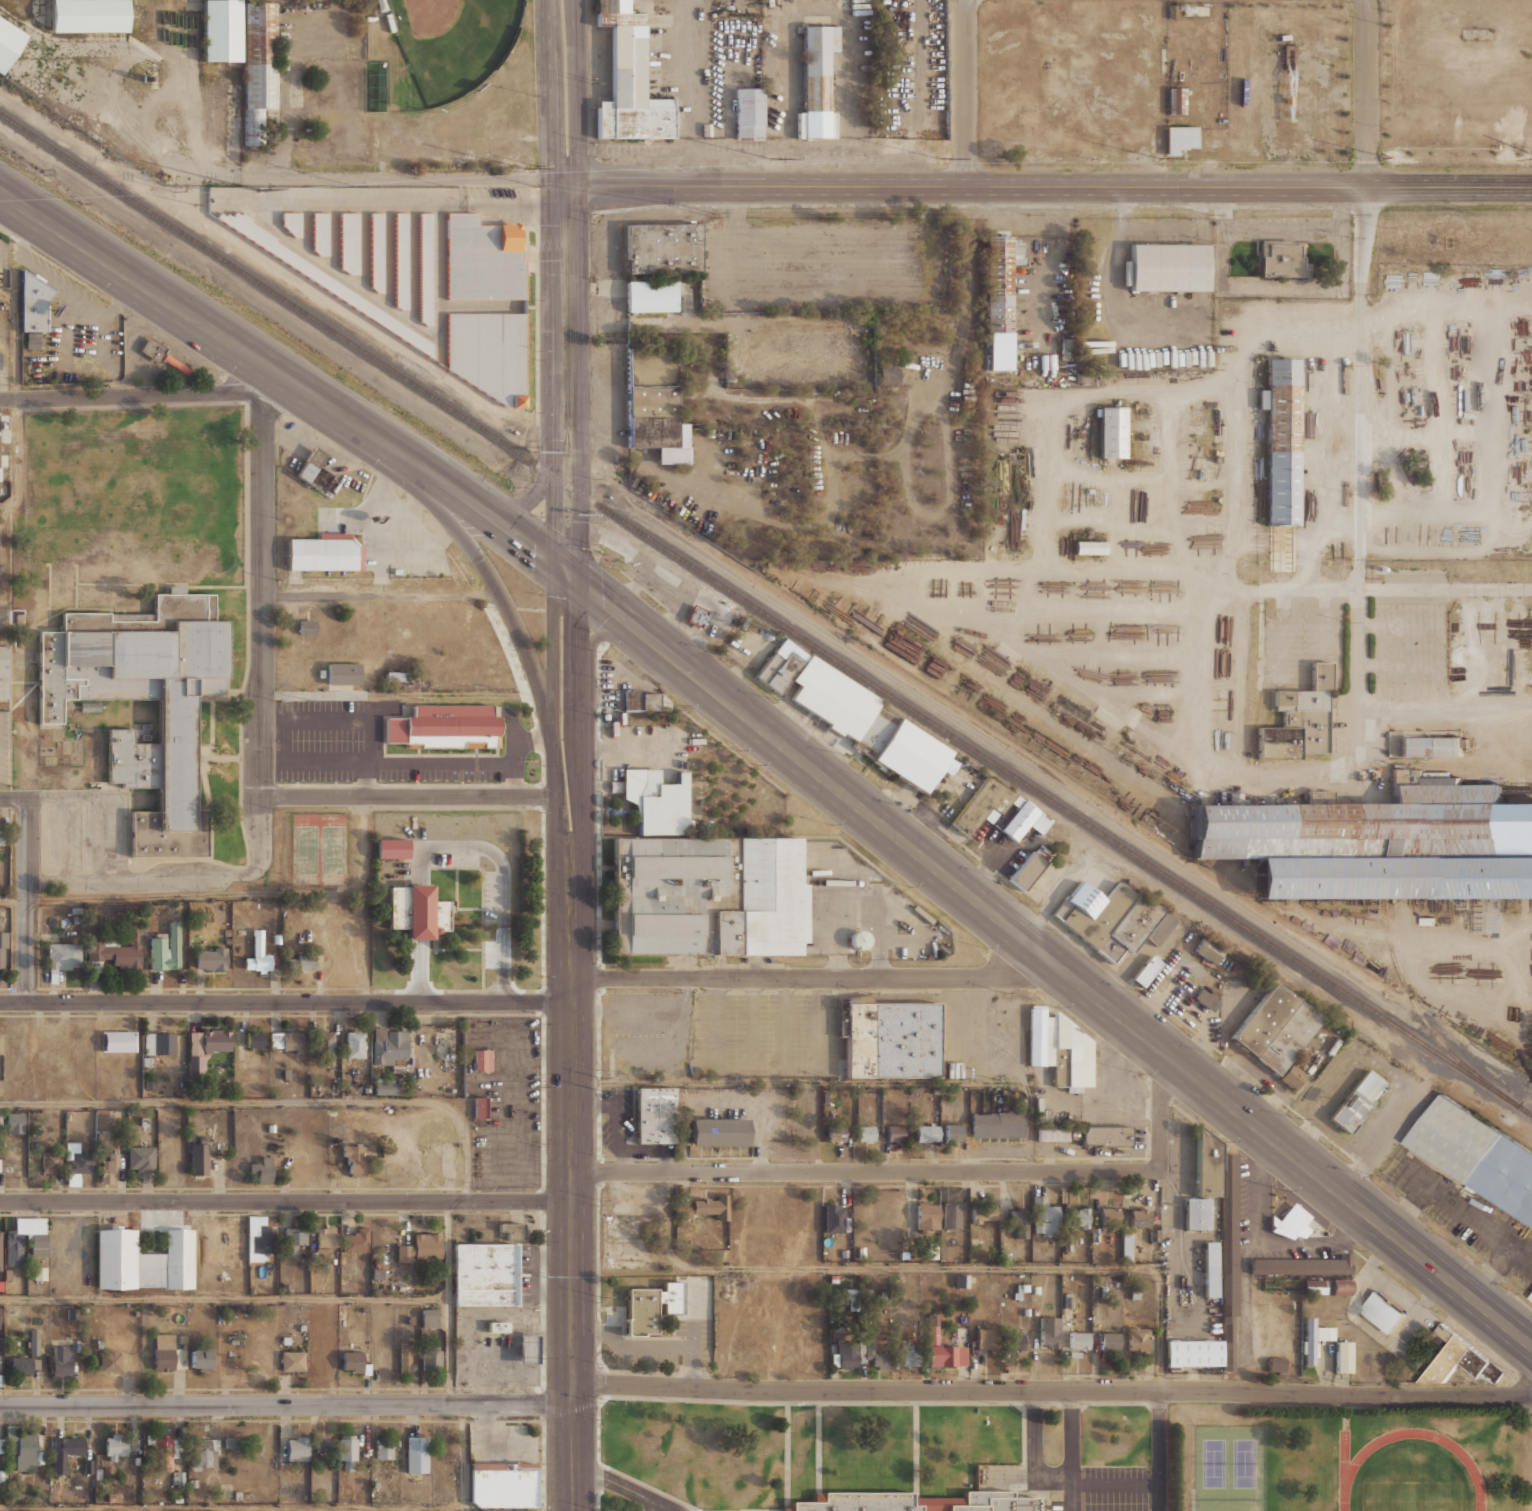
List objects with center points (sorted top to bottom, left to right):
building: (90, 15)
building: (368, 18)
building: (389, 22)
building: (218, 30)
park: (453, 41)
building: (9, 43)
building: (259, 65)
building: (627, 81)
building: (814, 83)
park: (429, 90)
road: (577, 92)
road: (962, 92)
road: (1365, 92)
road: (550, 93)
building: (1177, 100)
building: (746, 113)
building: (934, 113)
building: (1179, 138)
building: (270, 142)
road: (383, 177)
road: (1049, 184)
building: (291, 222)
building: (319, 232)
building: (349, 241)
building: (659, 248)
building: (376, 251)
building: (480, 259)
building: (1280, 259)
building: (400, 260)
parking lot: (821, 264)
building: (1163, 267)
building: (425, 268)
building: (320, 279)
road: (567, 292)
building: (649, 296)
building: (1000, 298)
building: (35, 302)
road: (201, 321)
building: (33, 340)
building: (1066, 350)
building: (486, 353)
building: (161, 355)
building: (1, 360)
building: (887, 372)
road: (136, 395)
road: (13, 398)
building: (652, 404)
building: (1109, 432)
building: (1279, 440)
building: (0, 447)
road: (1356, 465)
building: (311, 469)
road: (555, 480)
road: (579, 488)
road: (534, 493)
road: (490, 515)
building: (1088, 547)
building: (323, 553)
traffic signals: (555, 561)
traffic signals: (579, 578)
road: (262, 582)
road: (492, 584)
road: (1446, 588)
road: (379, 591)
road: (3, 614)
railway: (767, 614)
building: (695, 615)
building: (306, 627)
building: (780, 666)
building: (341, 673)
building: (6, 674)
building: (398, 679)
building: (831, 697)
building: (643, 701)
road: (1444, 703)
road: (553, 705)
building: (1304, 712)
road: (580, 714)
building: (181, 726)
building: (441, 726)
building: (1276, 742)
building: (1428, 746)
building: (900, 749)
road: (407, 797)
road: (14, 798)
building: (654, 802)
building: (982, 804)
building: (1017, 820)
building: (1357, 824)
building: (2, 836)
building: (389, 848)
park: (307, 849)
park: (334, 849)
building: (1025, 871)
road: (180, 875)
building: (1391, 878)
road: (503, 885)
road: (239, 894)
building: (703, 896)
road: (13, 898)
road: (27, 899)
building: (413, 911)
building: (1091, 911)
building: (1132, 928)
building: (860, 939)
building: (166, 948)
building: (4, 950)
building: (1206, 950)
building: (117, 952)
building: (65, 956)
building: (258, 958)
building: (210, 959)
building: (302, 962)
road: (1055, 963)
building: (1145, 970)
building: (1197, 994)
road: (538, 1002)
railway: (1414, 1008)
building: (1261, 1018)
parking lot: (764, 1033)
building: (1287, 1037)
building: (256, 1038)
building: (887, 1038)
building: (287, 1041)
building: (1, 1042)
building: (160, 1043)
building: (325, 1043)
building: (389, 1043)
building: (206, 1044)
building: (355, 1044)
building: (1058, 1047)
building: (481, 1059)
building: (956, 1070)
building: (1291, 1076)
building: (1, 1086)
building: (386, 1086)
building: (1074, 1087)
building: (1530, 1091)
road: (273, 1101)
building: (1356, 1101)
building: (478, 1107)
building: (653, 1115)
building: (1, 1119)
building: (16, 1122)
building: (998, 1124)
building: (719, 1131)
building: (1073, 1131)
building: (895, 1132)
building: (928, 1132)
building: (954, 1132)
building: (836, 1133)
building: (866, 1133)
building: (1052, 1135)
building: (1104, 1136)
building: (1475, 1155)
building: (141, 1158)
building: (199, 1158)
building: (354, 1158)
building: (52, 1162)
building: (77, 1163)
building: (1204, 1164)
building: (110, 1169)
building: (262, 1169)
road: (571, 1178)
road: (928, 1181)
road: (285, 1201)
building: (711, 1205)
building: (683, 1211)
building: (984, 1213)
building: (1195, 1213)
building: (952, 1215)
building: (1043, 1215)
building: (1109, 1215)
building: (1141, 1216)
road: (1470, 1216)
building: (834, 1217)
building: (928, 1217)
building: (1080, 1217)
building: (1019, 1221)
building: (1290, 1222)
building: (511, 1230)
building: (233, 1236)
building: (327, 1236)
building: (294, 1237)
building: (263, 1238)
building: (26, 1239)
building: (356, 1240)
building: (1127, 1246)
building: (421, 1247)
building: (1, 1249)
building: (930, 1252)
building: (1228, 1253)
building: (143, 1260)
building: (1302, 1265)
road: (933, 1267)
building: (1210, 1268)
building: (484, 1273)
building: (961, 1281)
building: (1312, 1287)
building: (1339, 1287)
building: (1133, 1292)
building: (852, 1296)
building: (1530, 1296)
building: (883, 1297)
road: (224, 1299)
road: (449, 1302)
building: (647, 1307)
building: (1381, 1312)
building: (430, 1315)
building: (0, 1323)
building: (496, 1327)
building: (332, 1329)
building: (1050, 1332)
building: (987, 1338)
building: (1313, 1338)
building: (1079, 1339)
building: (35, 1340)
building: (1138, 1340)
building: (1015, 1341)
building: (1110, 1341)
building: (943, 1348)
building: (528, 1349)
building: (164, 1351)
building: (1190, 1352)
building: (321, 1355)
building: (875, 1355)
building: (910, 1355)
building: (1341, 1356)
building: (845, 1357)
building: (111, 1359)
building: (200, 1359)
building: (405, 1359)
building: (431, 1359)
building: (1457, 1359)
building: (293, 1360)
building: (62, 1361)
building: (352, 1362)
building: (1275, 1364)
building: (25, 1365)
road: (765, 1390)
building: (232, 1442)
parking lot: (502, 1442)
building: (0, 1443)
building: (324, 1446)
building: (120, 1447)
building: (297, 1448)
building: (67, 1450)
building: (163, 1450)
building: (384, 1450)
road: (1070, 1450)
road: (1159, 1450)
building: (348, 1451)
building: (27, 1452)
road: (1036, 1452)
building: (205, 1453)
building: (417, 1454)
road: (464, 1457)
park: (1213, 1462)
park: (1244, 1462)
building: (88, 1466)
track: (1347, 1468)
building: (500, 1483)
road: (1115, 1483)
road: (623, 1486)
parking lot: (1118, 1489)
park: (1410, 1495)
building: (917, 1502)
road: (650, 1505)
road: (232, 1508)
building: (527, 1510)

